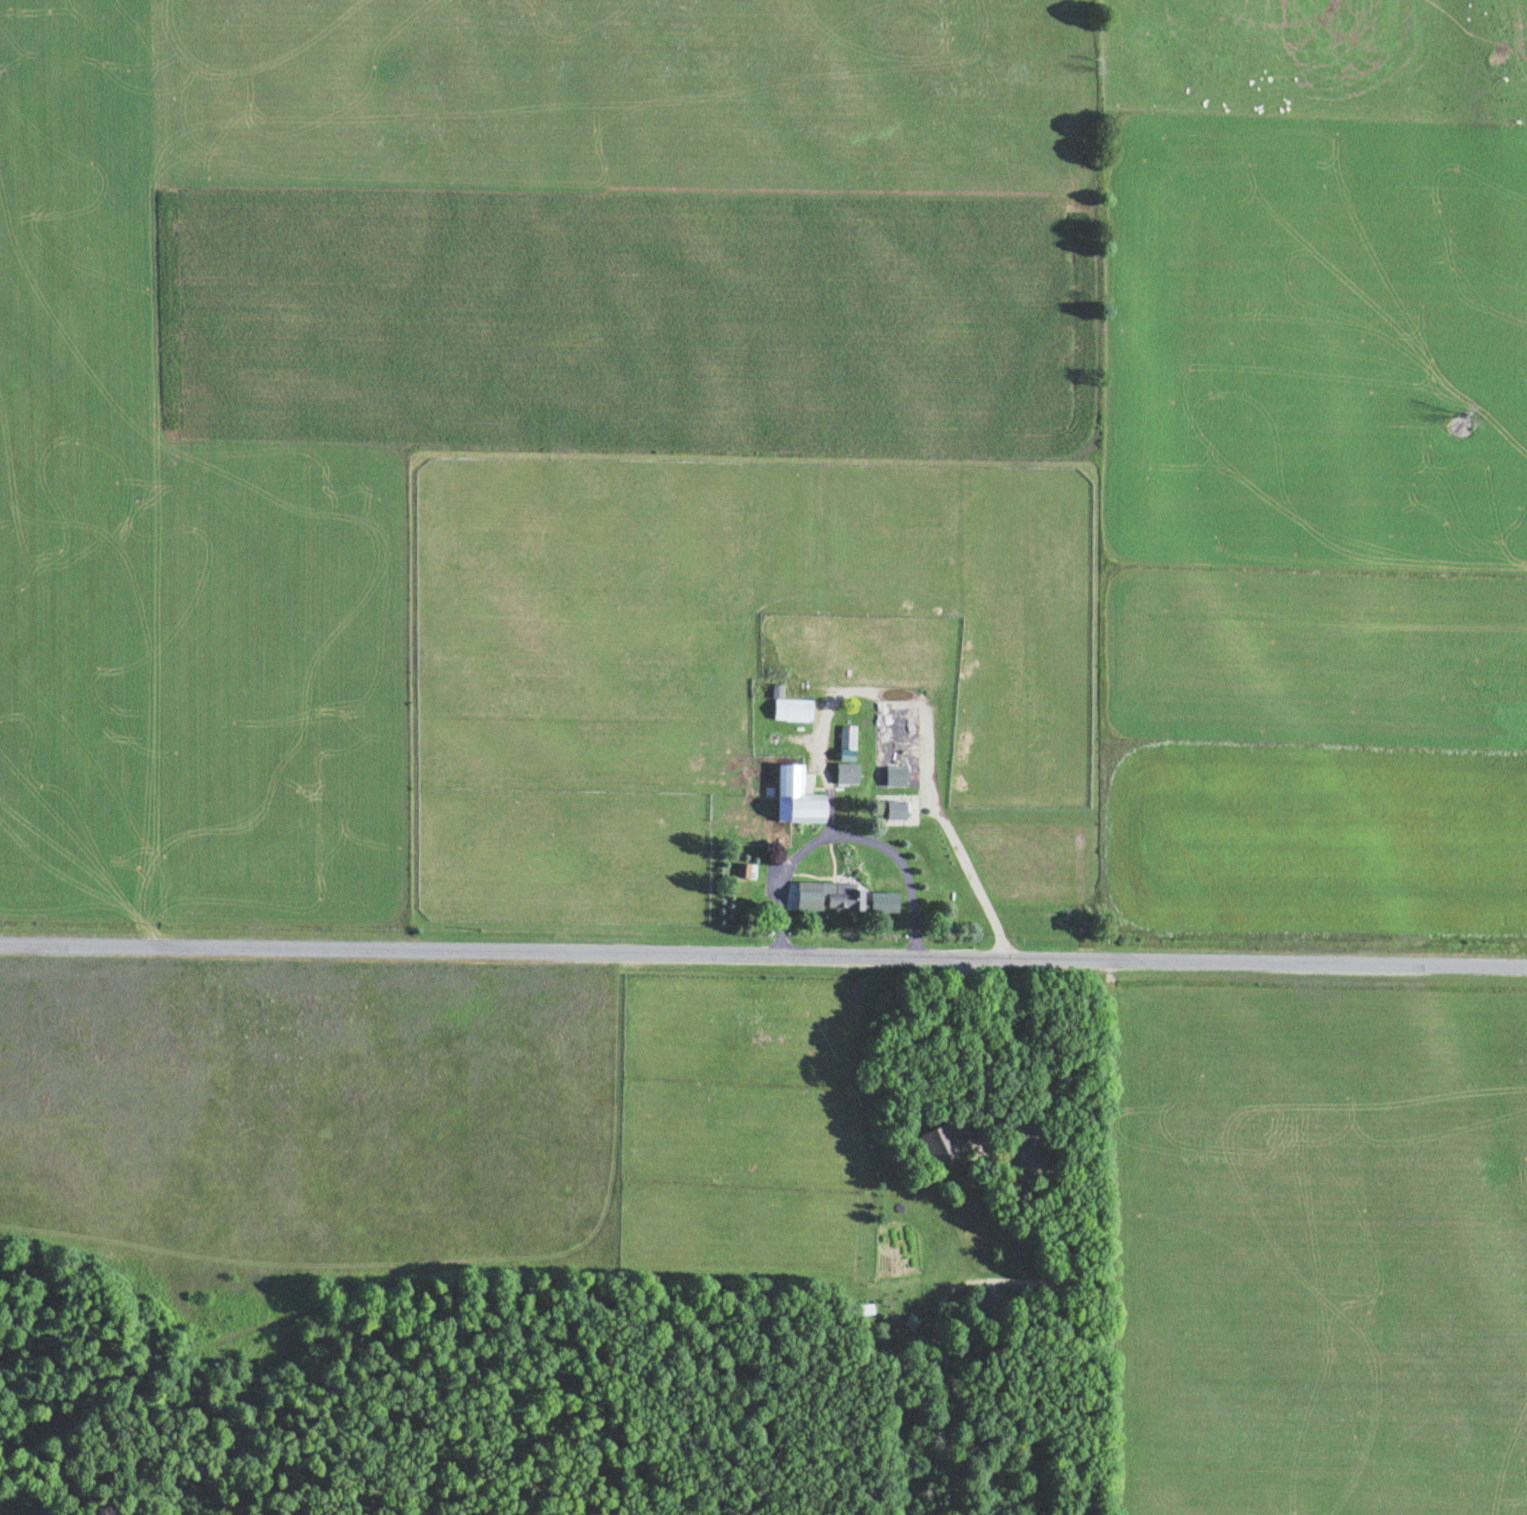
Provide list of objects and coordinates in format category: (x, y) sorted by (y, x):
building: (791, 707)
building: (845, 740)
building: (845, 770)
building: (798, 795)
building: (895, 807)
road: (969, 883)
building: (841, 894)
road: (763, 952)
road: (757, 966)
building: (938, 1142)
building: (1034, 1153)
building: (910, 1320)

